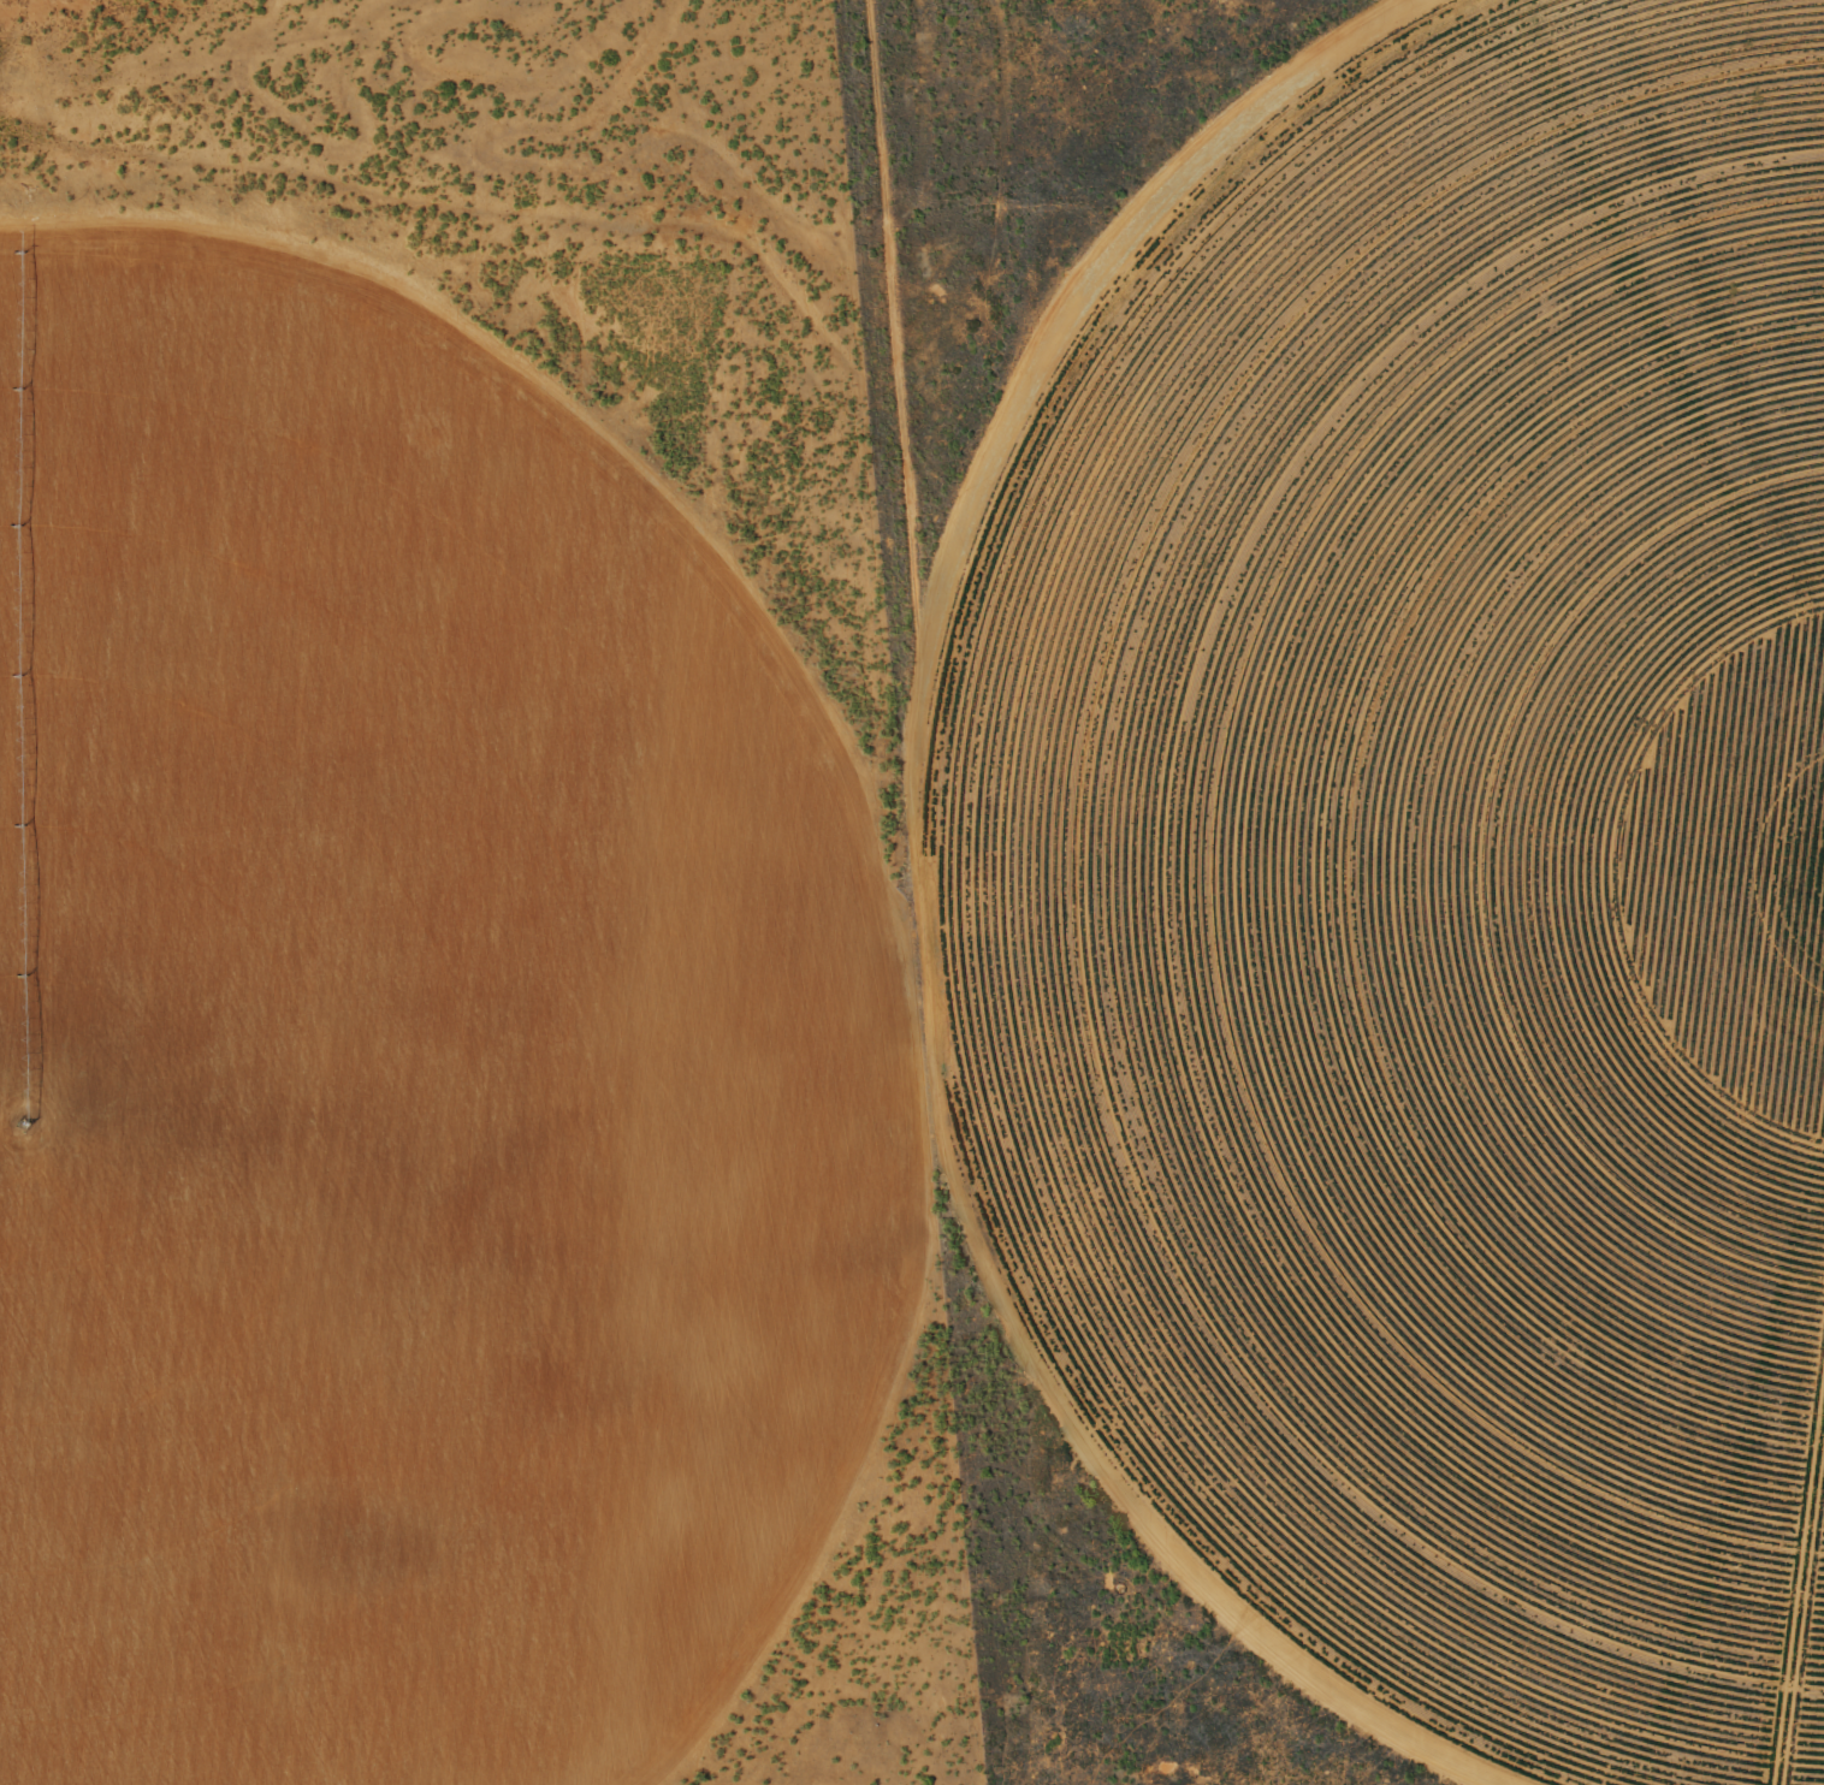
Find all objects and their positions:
road: (1648, 1058)

